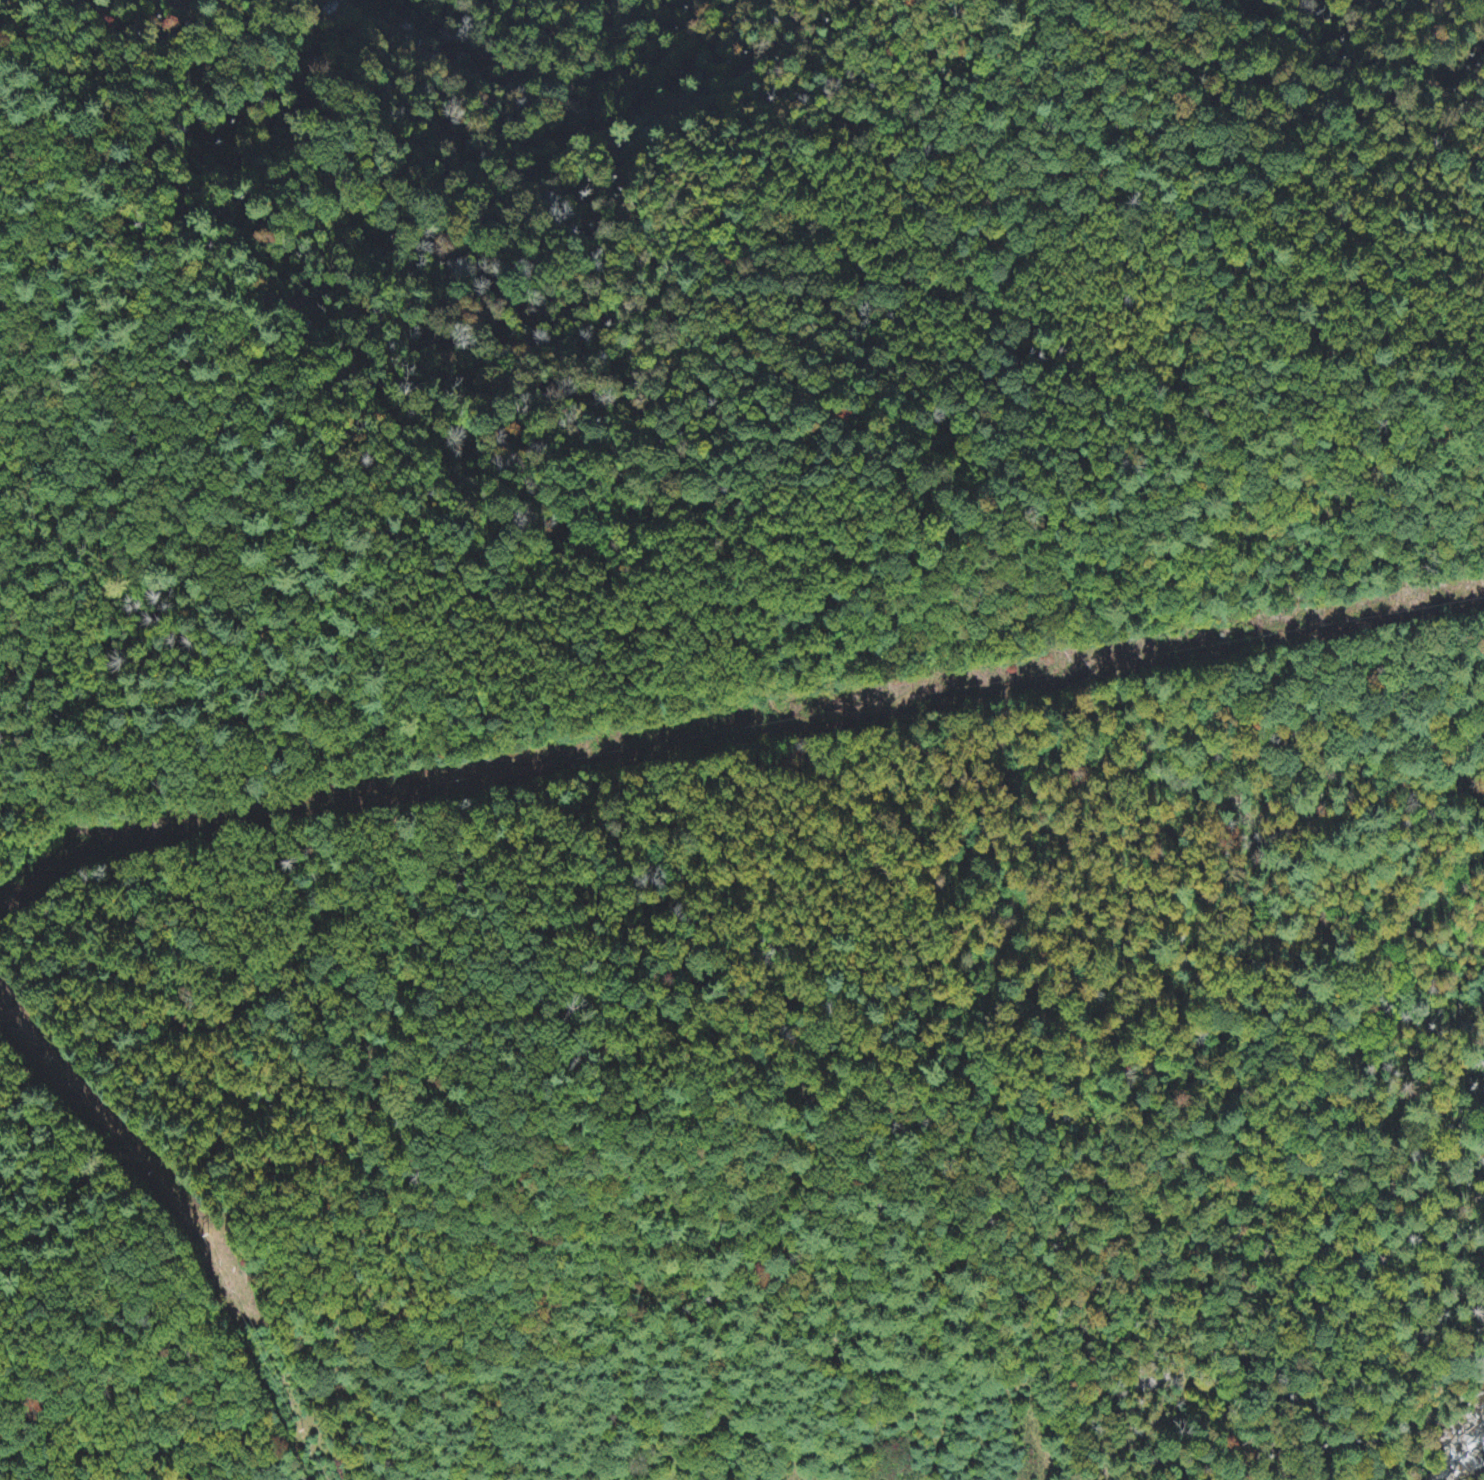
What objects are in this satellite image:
river: (1464, 1335)

